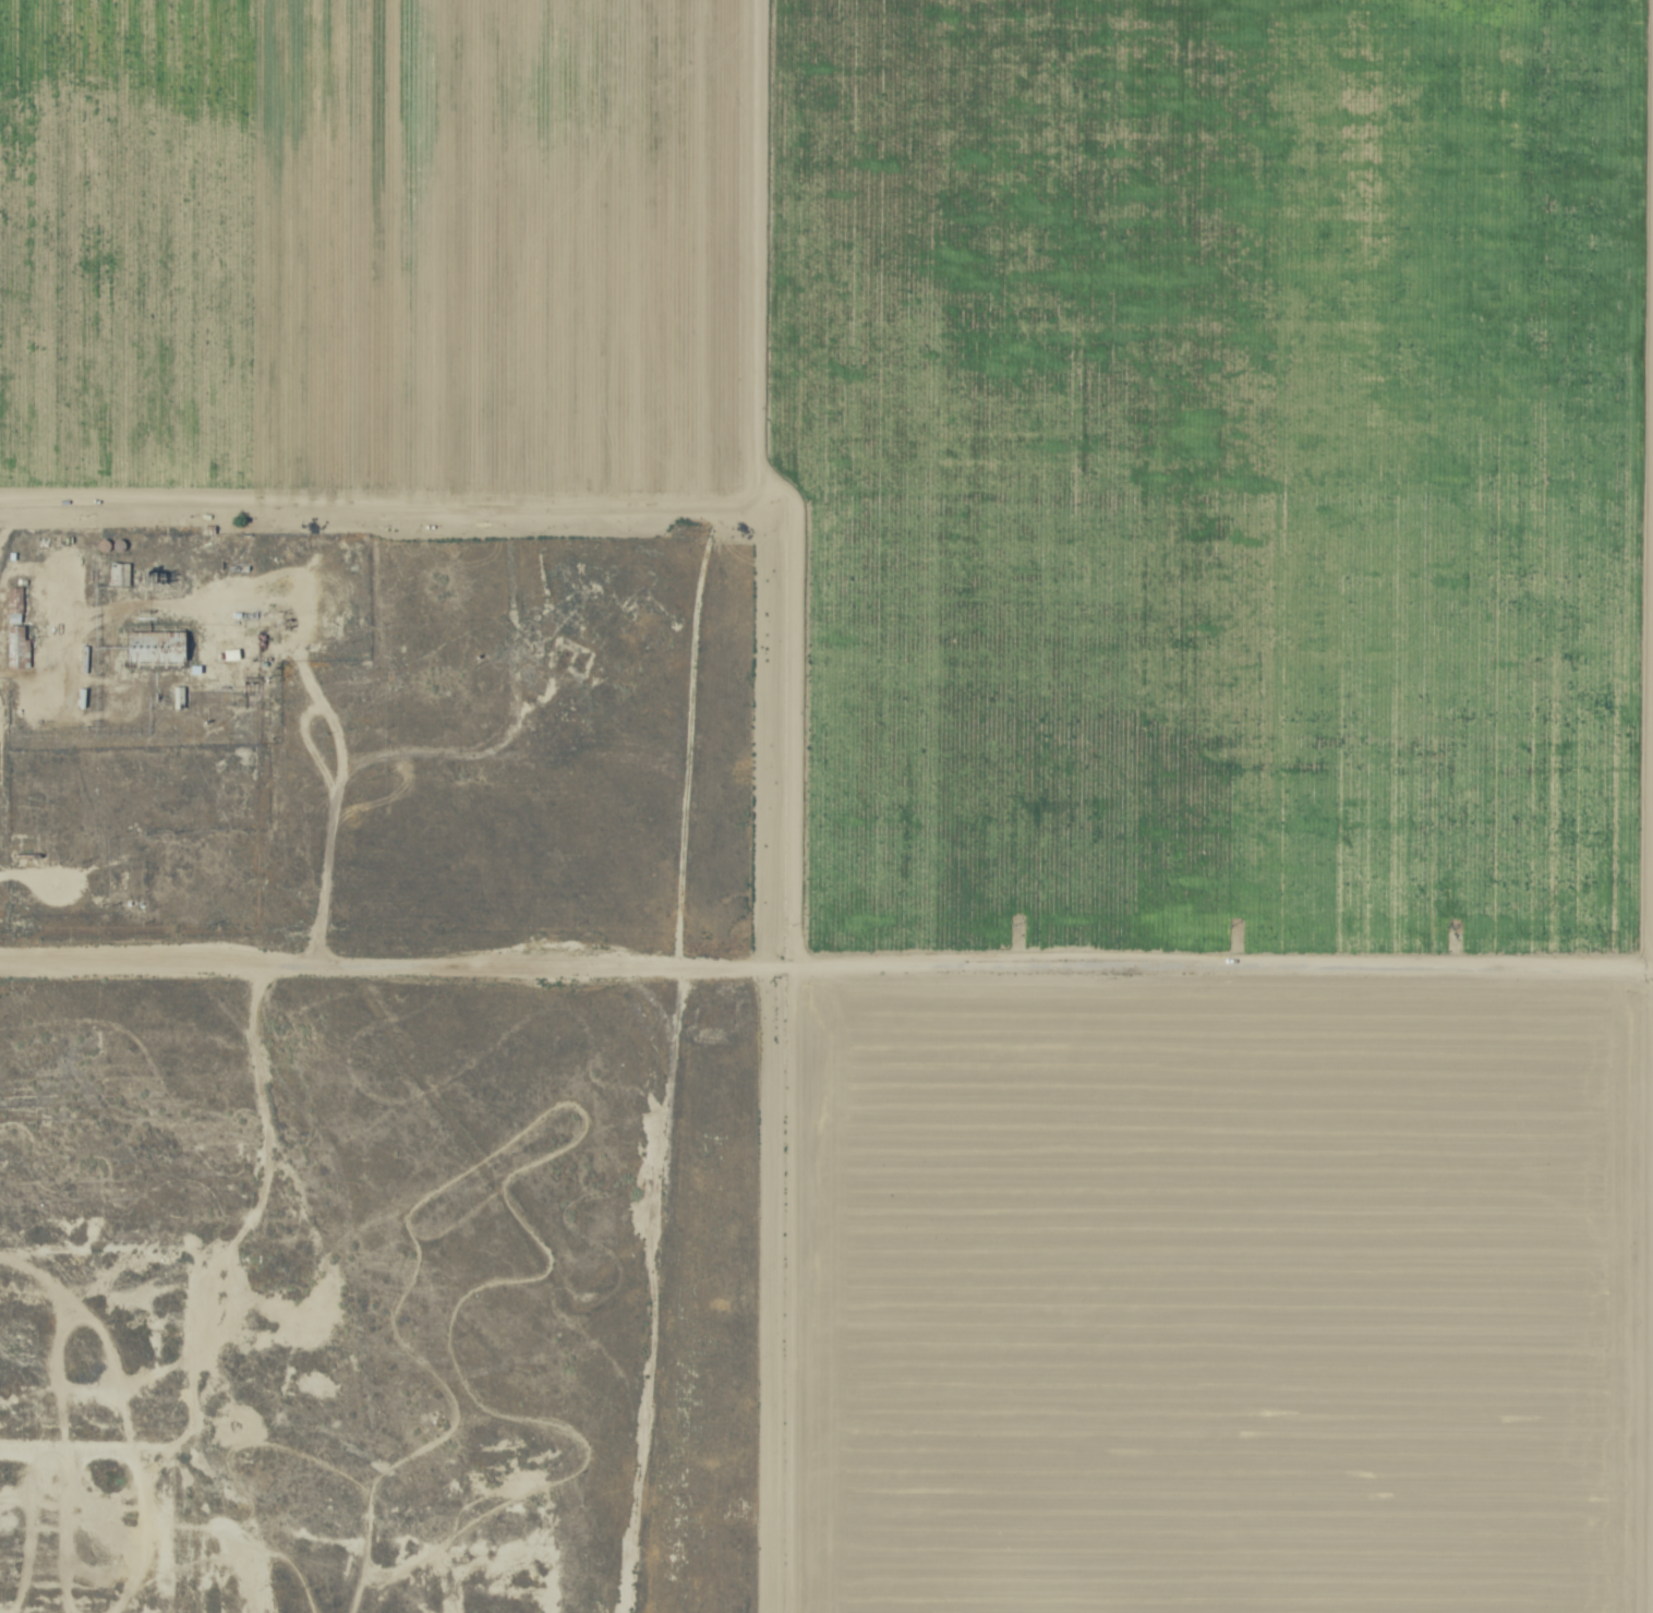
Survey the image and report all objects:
crop: (1217, 244)
road: (108, 496)
building: (19, 598)
building: (22, 642)
building: (158, 646)
building: (53, 852)
crop: (749, 914)
road: (826, 955)

